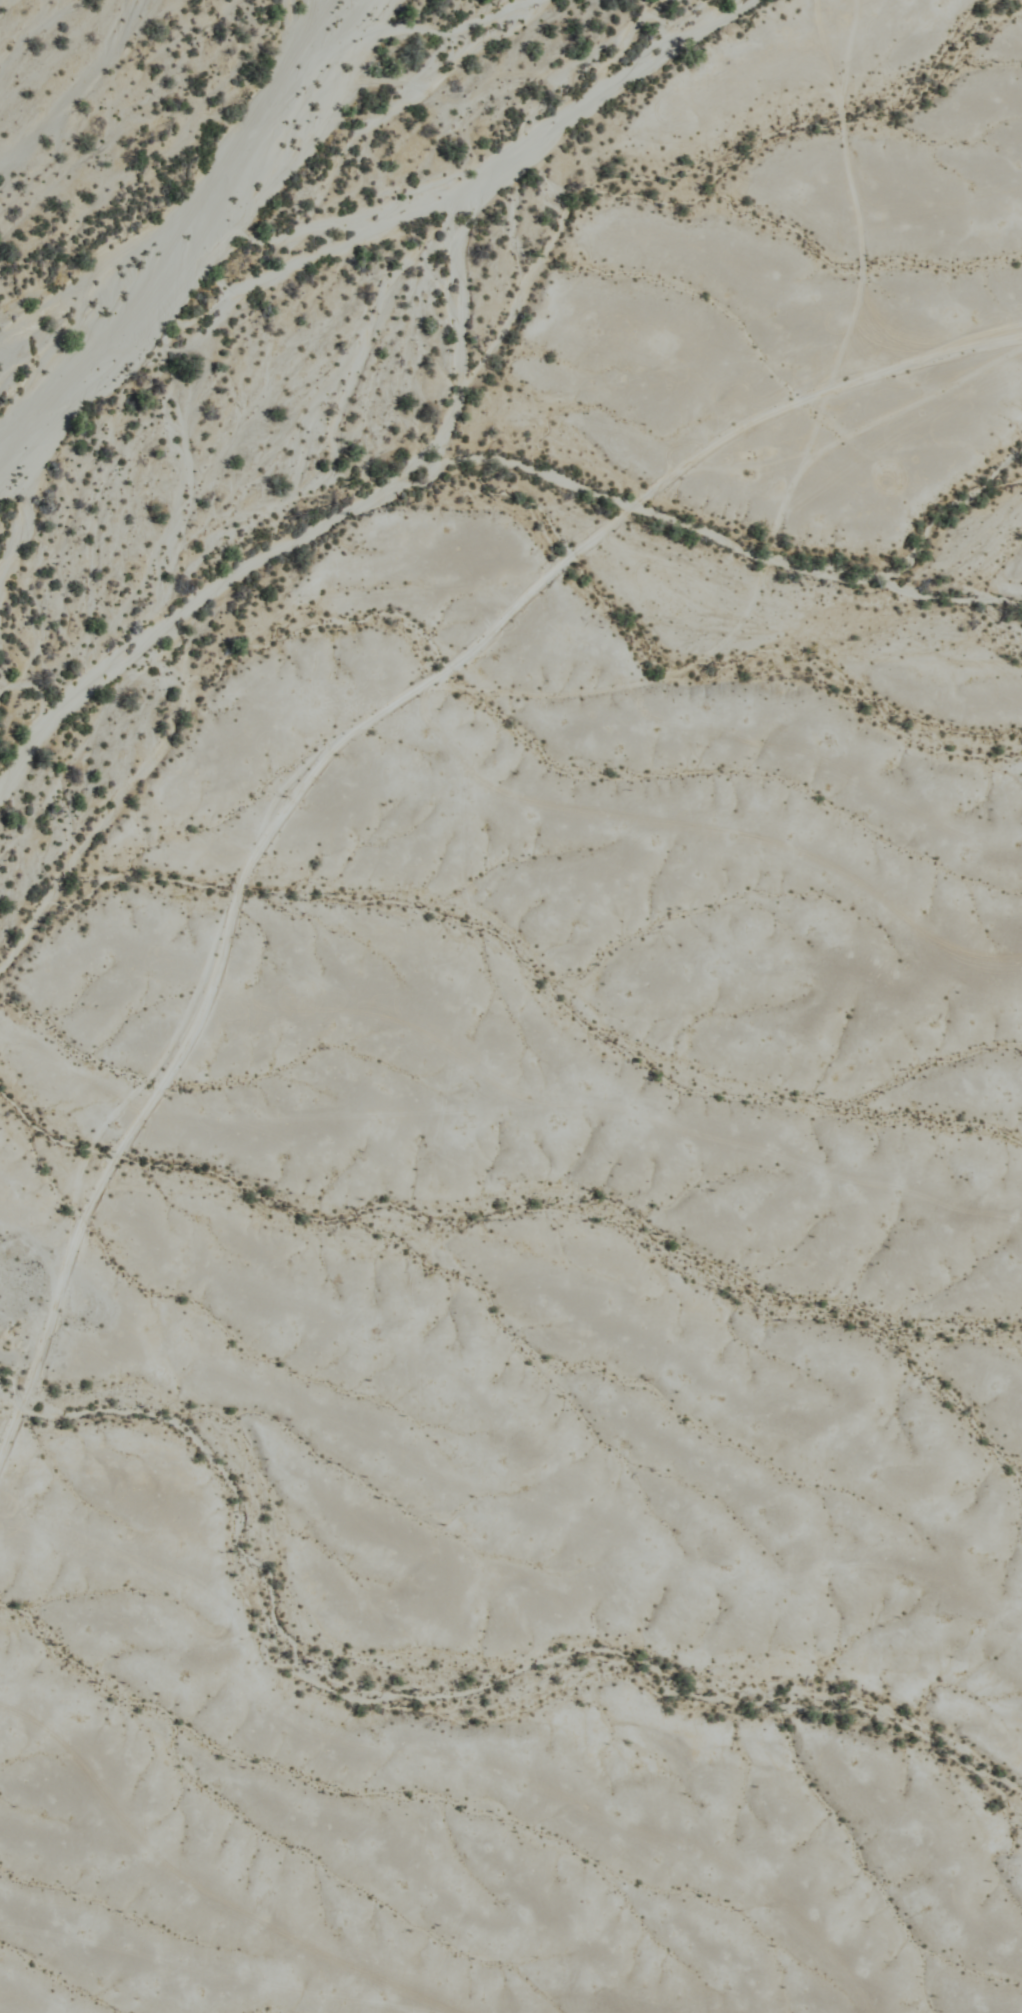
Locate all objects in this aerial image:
road: (343, 752)

